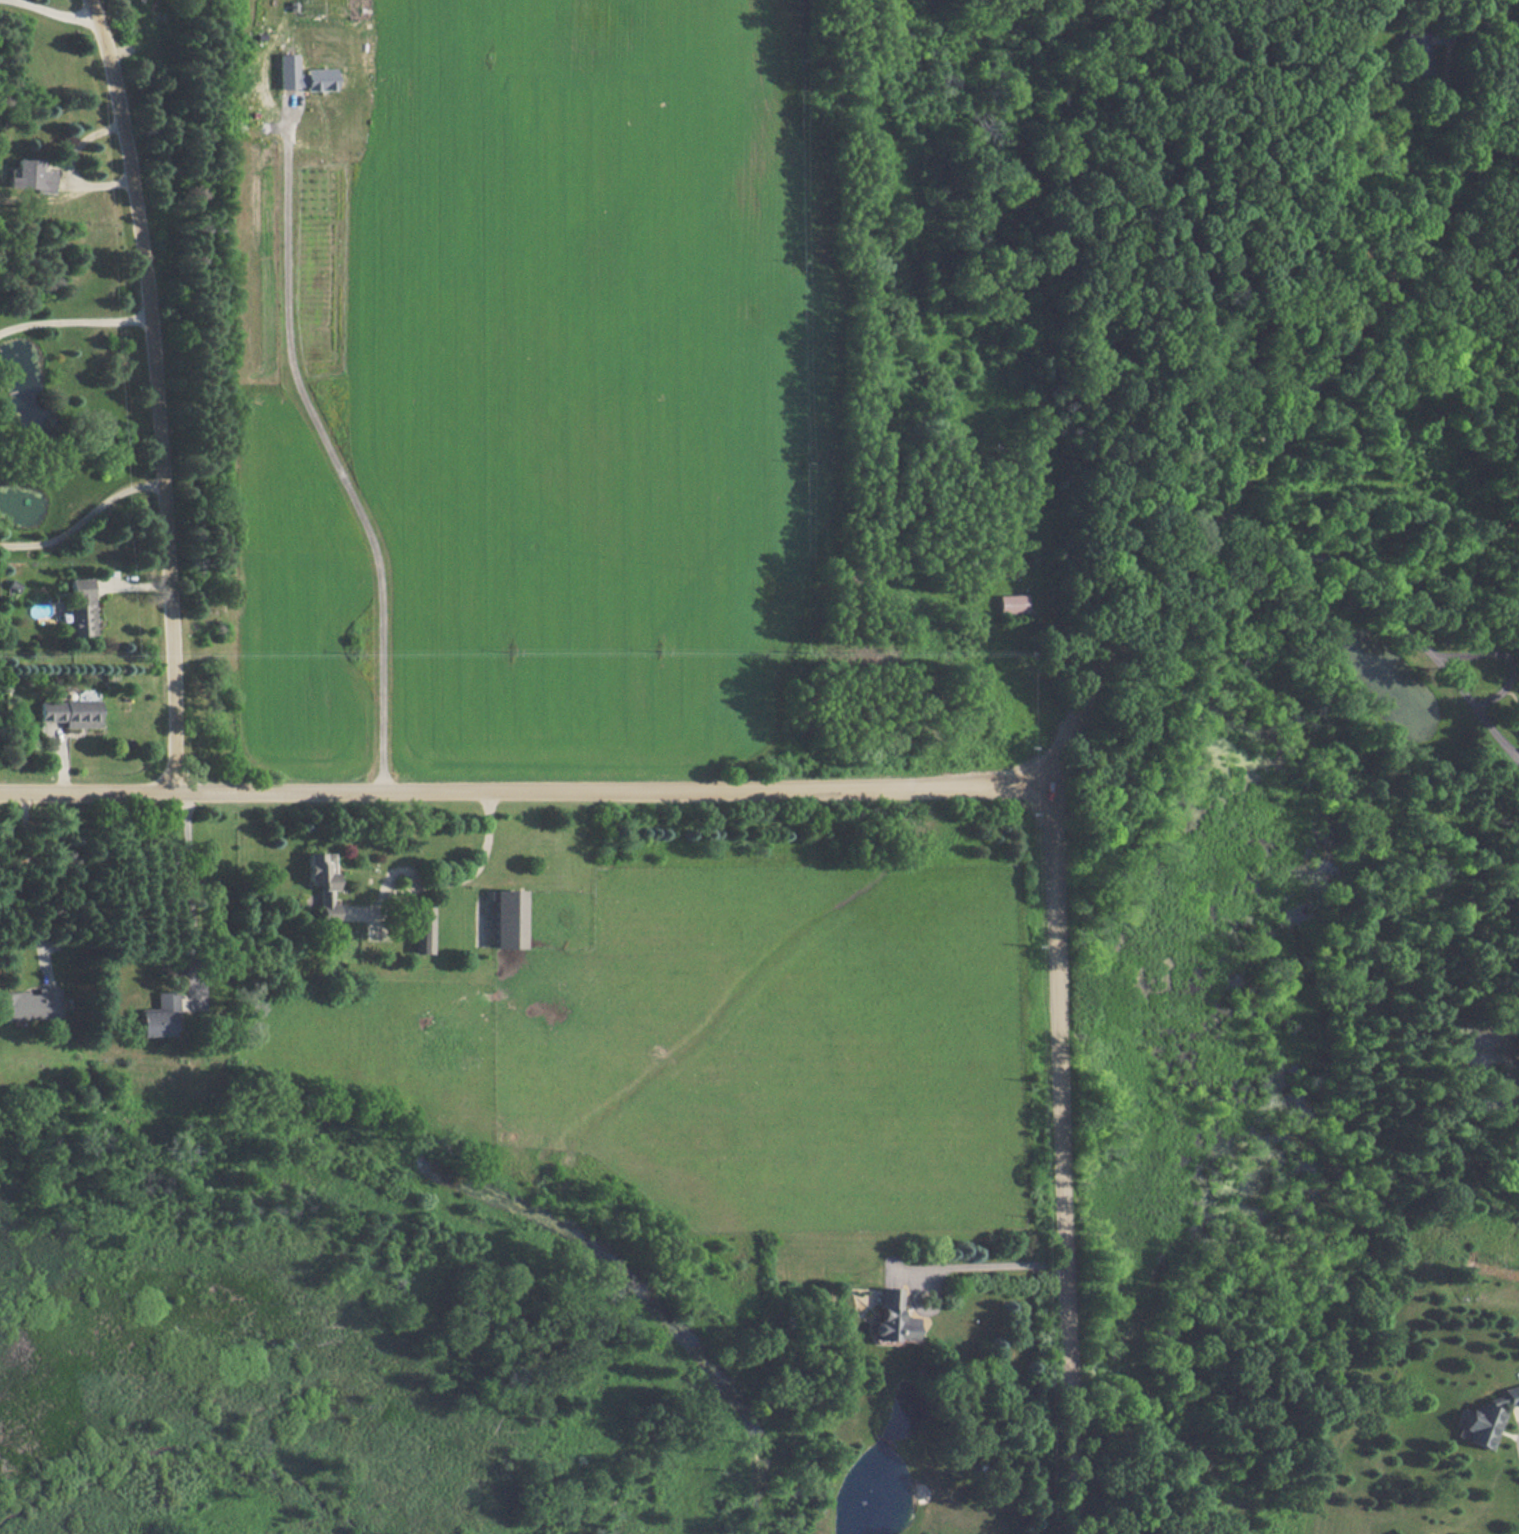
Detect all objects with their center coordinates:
road: (19, 1)
road: (52, 11)
road: (1484, 30)
building: (1416, 52)
building: (302, 75)
building: (31, 176)
road: (76, 335)
road: (158, 394)
road: (1267, 440)
road: (330, 451)
road: (83, 530)
road: (1338, 567)
road: (137, 585)
building: (1012, 603)
building: (79, 606)
building: (70, 712)
road: (894, 788)
road: (476, 868)
building: (322, 883)
road: (190, 884)
building: (508, 918)
building: (28, 1004)
building: (157, 1015)
road: (979, 1265)
building: (893, 1316)
building: (1511, 1394)
building: (1482, 1424)

